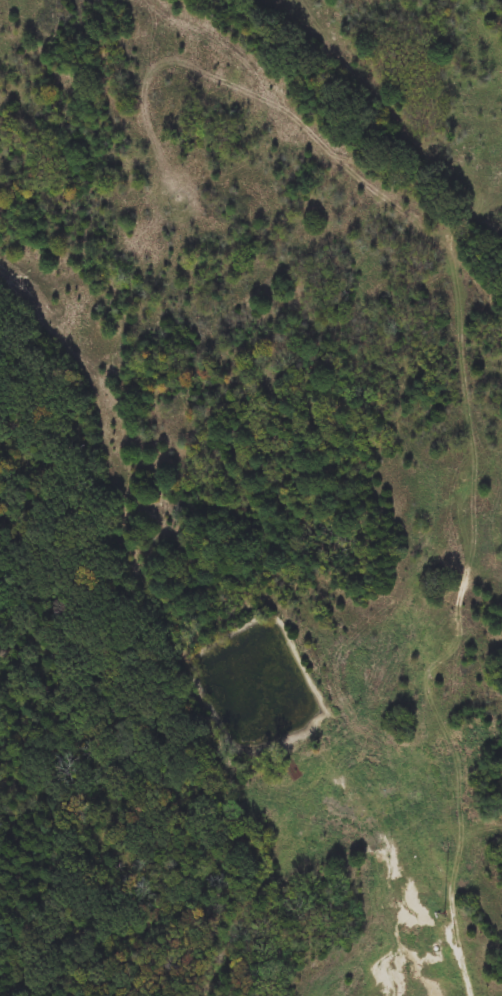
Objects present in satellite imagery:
road: (360, 809)

